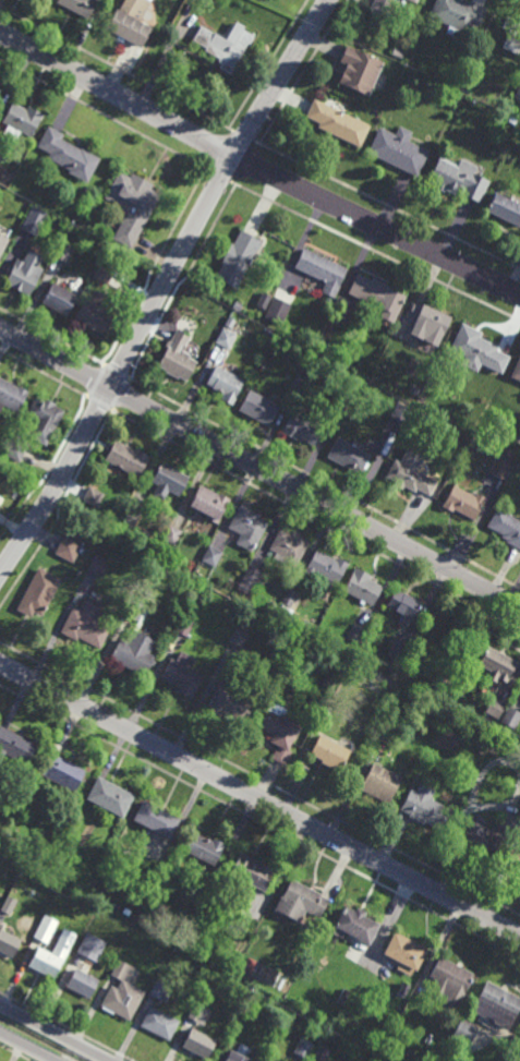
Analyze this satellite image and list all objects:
building: (413, 1)
building: (78, 5)
building: (383, 8)
building: (457, 13)
building: (126, 25)
building: (511, 35)
building: (223, 45)
building: (397, 51)
building: (359, 69)
building: (518, 92)
building: (21, 120)
building: (512, 120)
building: (337, 122)
building: (398, 149)
building: (66, 154)
road: (257, 167)
road: (314, 169)
building: (458, 178)
building: (131, 205)
building: (506, 207)
building: (35, 220)
building: (2, 243)
building: (63, 253)
building: (237, 258)
building: (321, 270)
building: (25, 273)
building: (102, 274)
road: (162, 286)
building: (312, 289)
building: (377, 296)
building: (58, 299)
building: (263, 300)
building: (237, 306)
building: (277, 311)
building: (94, 316)
building: (229, 323)
building: (430, 324)
building: (265, 336)
building: (225, 338)
building: (322, 342)
building: (477, 350)
building: (177, 358)
building: (517, 372)
building: (298, 382)
building: (225, 384)
building: (11, 396)
building: (340, 402)
building: (258, 409)
building: (400, 413)
building: (43, 419)
building: (301, 427)
building: (14, 448)
building: (348, 456)
building: (126, 458)
road: (259, 467)
building: (500, 469)
building: (410, 473)
building: (168, 482)
building: (93, 496)
building: (0, 498)
building: (464, 503)
building: (209, 504)
building: (131, 515)
building: (246, 528)
building: (506, 528)
building: (171, 534)
building: (289, 547)
building: (68, 551)
building: (211, 557)
building: (96, 567)
building: (326, 567)
building: (249, 581)
building: (362, 588)
building: (38, 593)
building: (289, 599)
building: (402, 604)
building: (134, 611)
building: (281, 611)
building: (86, 626)
building: (185, 627)
building: (355, 635)
building: (239, 638)
building: (396, 650)
building: (134, 653)
building: (295, 654)
building: (497, 666)
building: (182, 676)
building: (229, 703)
building: (495, 709)
building: (510, 718)
building: (279, 734)
building: (384, 734)
building: (15, 747)
building: (329, 751)
building: (63, 771)
building: (380, 783)
building: (23, 795)
building: (110, 796)
road: (259, 798)
building: (424, 807)
building: (155, 819)
building: (481, 836)
building: (204, 847)
building: (512, 857)
building: (252, 871)
building: (300, 902)
building: (8, 904)
building: (126, 912)
building: (356, 925)
building: (46, 928)
building: (8, 944)
building: (90, 947)
building: (406, 951)
building: (48, 960)
building: (82, 982)
building: (449, 982)
building: (161, 991)
building: (122, 992)
building: (342, 996)
building: (498, 1004)
building: (199, 1013)
building: (159, 1023)
building: (464, 1032)
road: (52, 1034)
building: (198, 1042)
road: (26, 1047)
building: (304, 1048)
building: (241, 1053)
building: (321, 1053)

